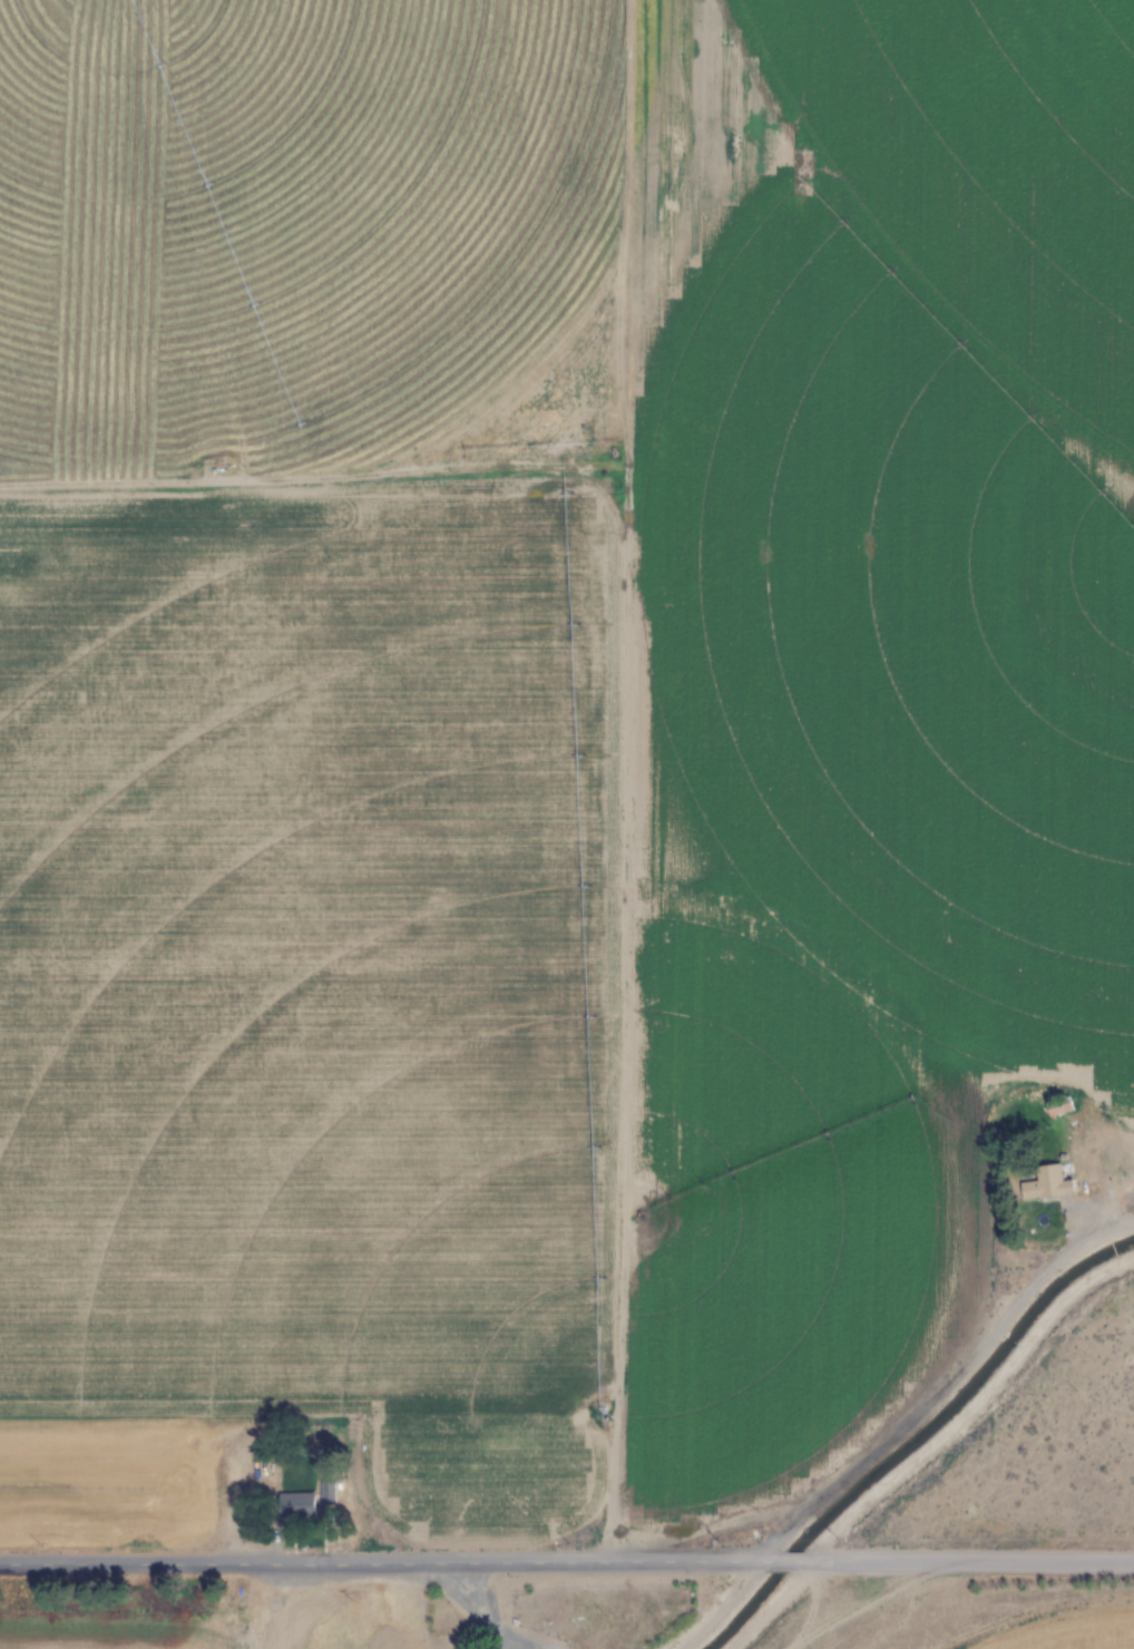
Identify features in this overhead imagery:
building: (1059, 1108)
building: (1046, 1184)
road: (941, 1380)
building: (296, 1505)
road: (387, 1560)
road: (785, 1561)
road: (966, 1561)
building: (270, 1614)

